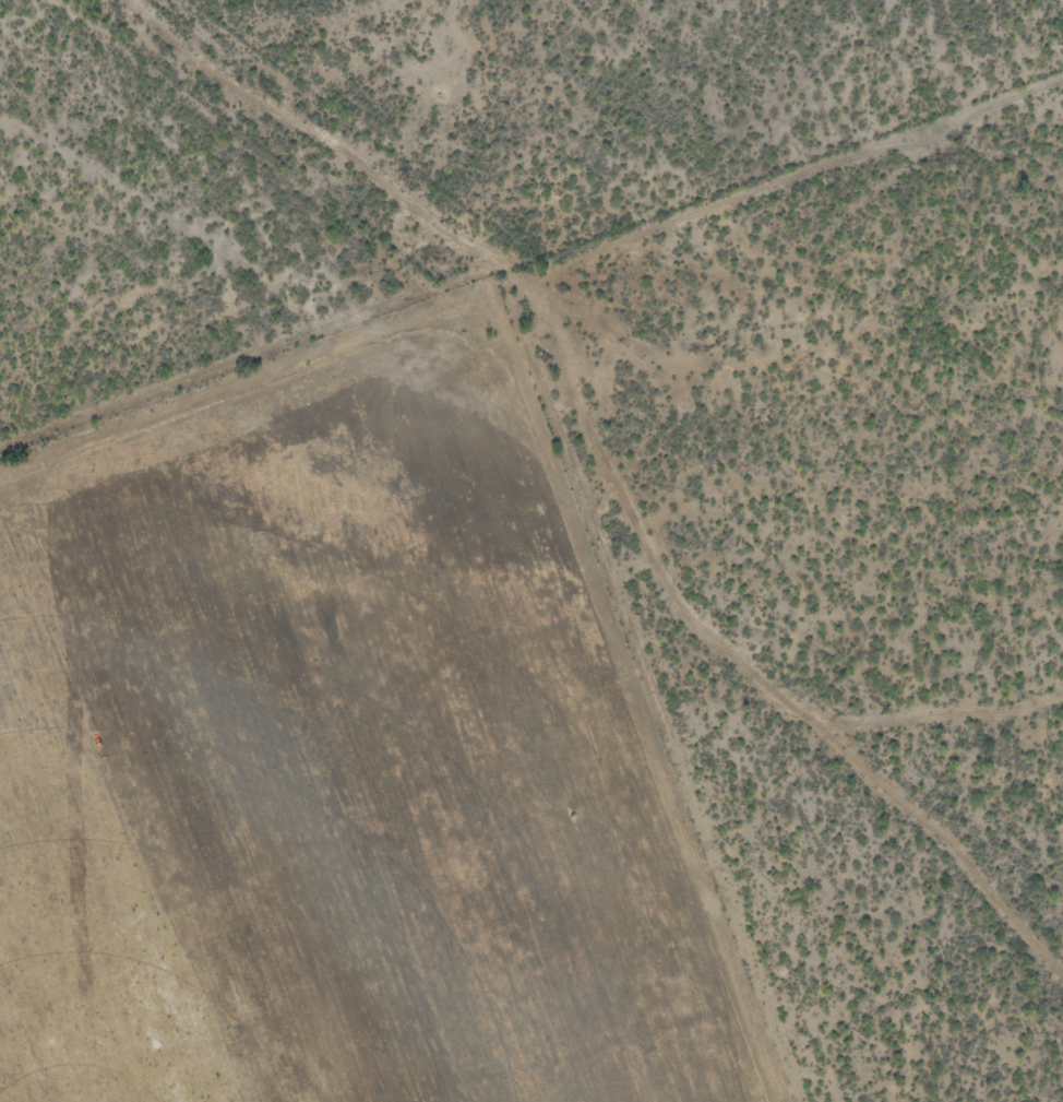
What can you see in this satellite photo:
road: (612, 464)

